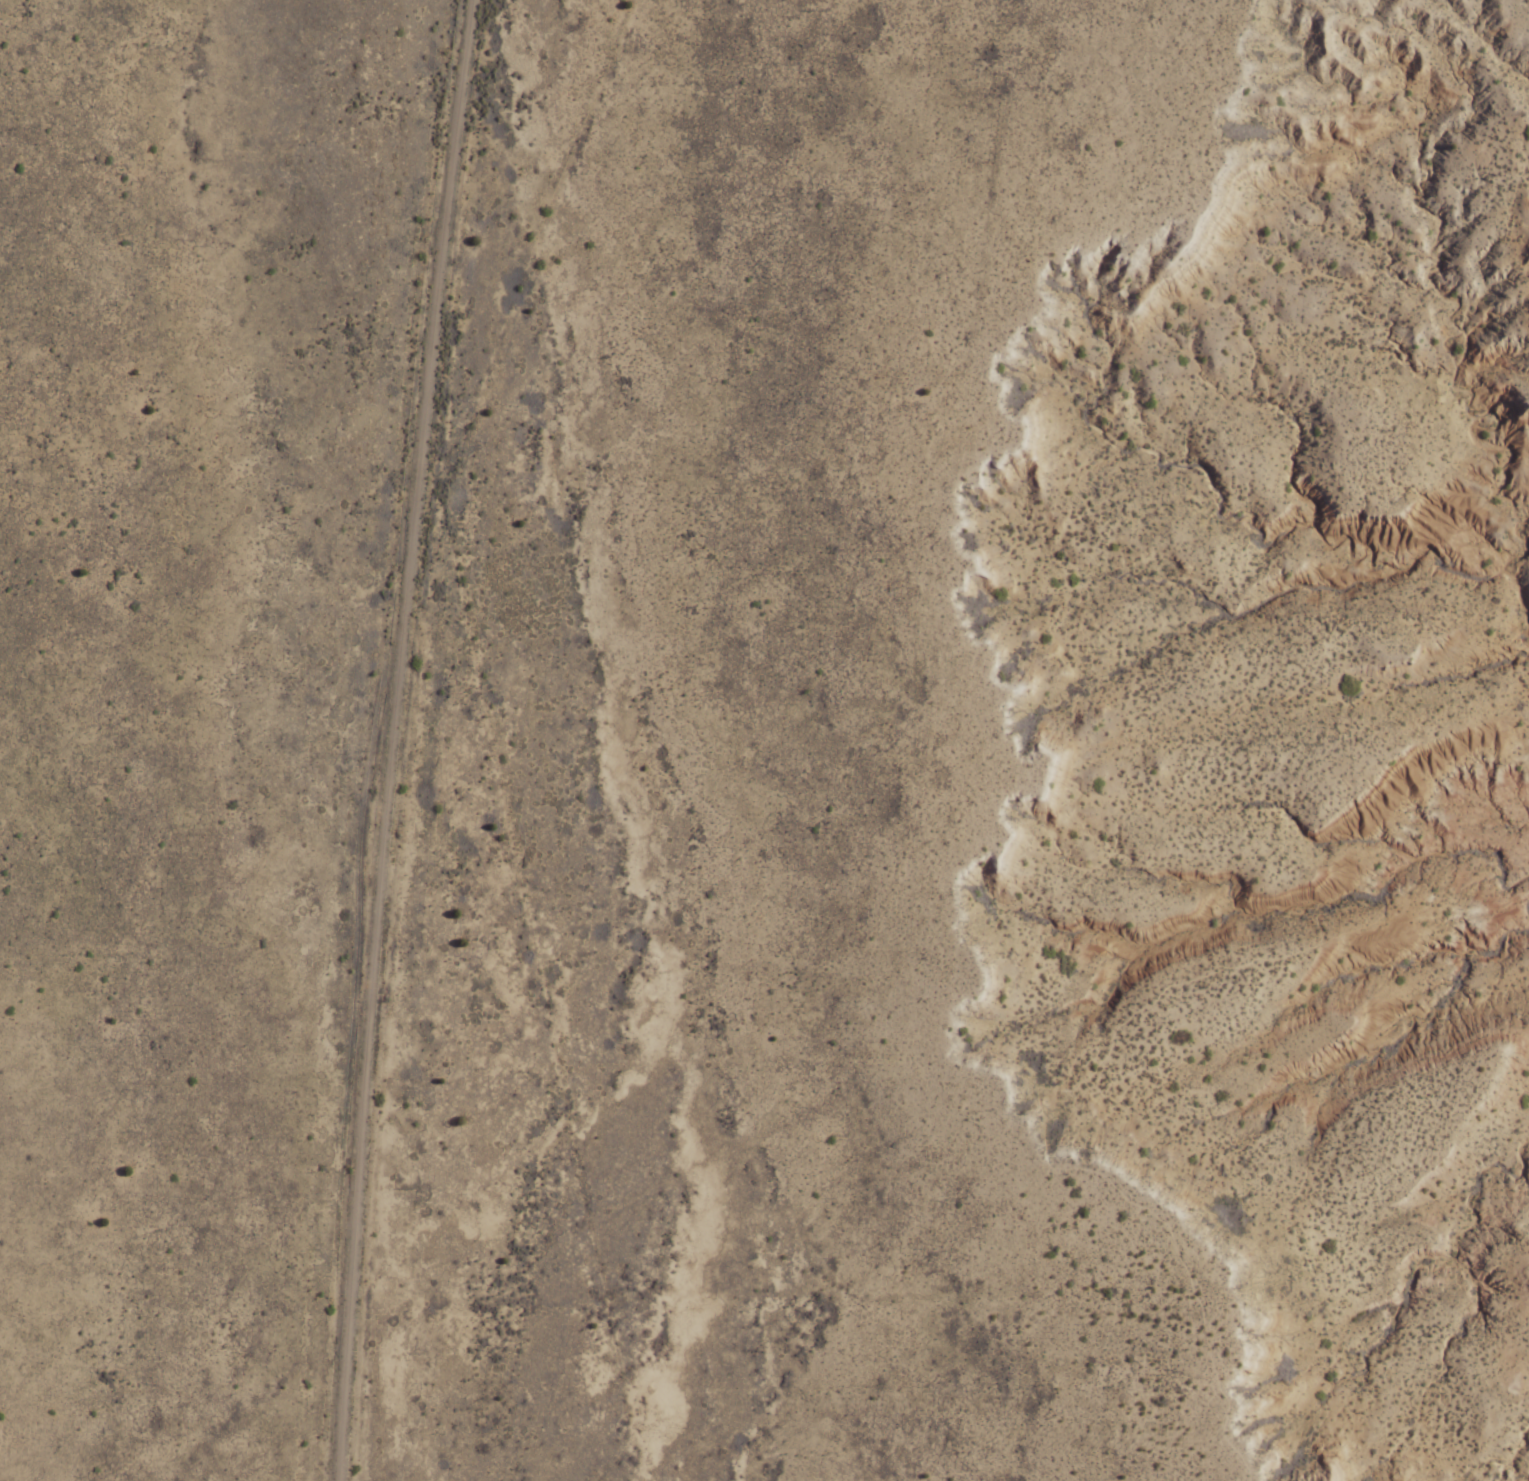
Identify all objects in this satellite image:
road: (215, 573)
road: (392, 739)
road: (1254, 960)
road: (1181, 1259)

